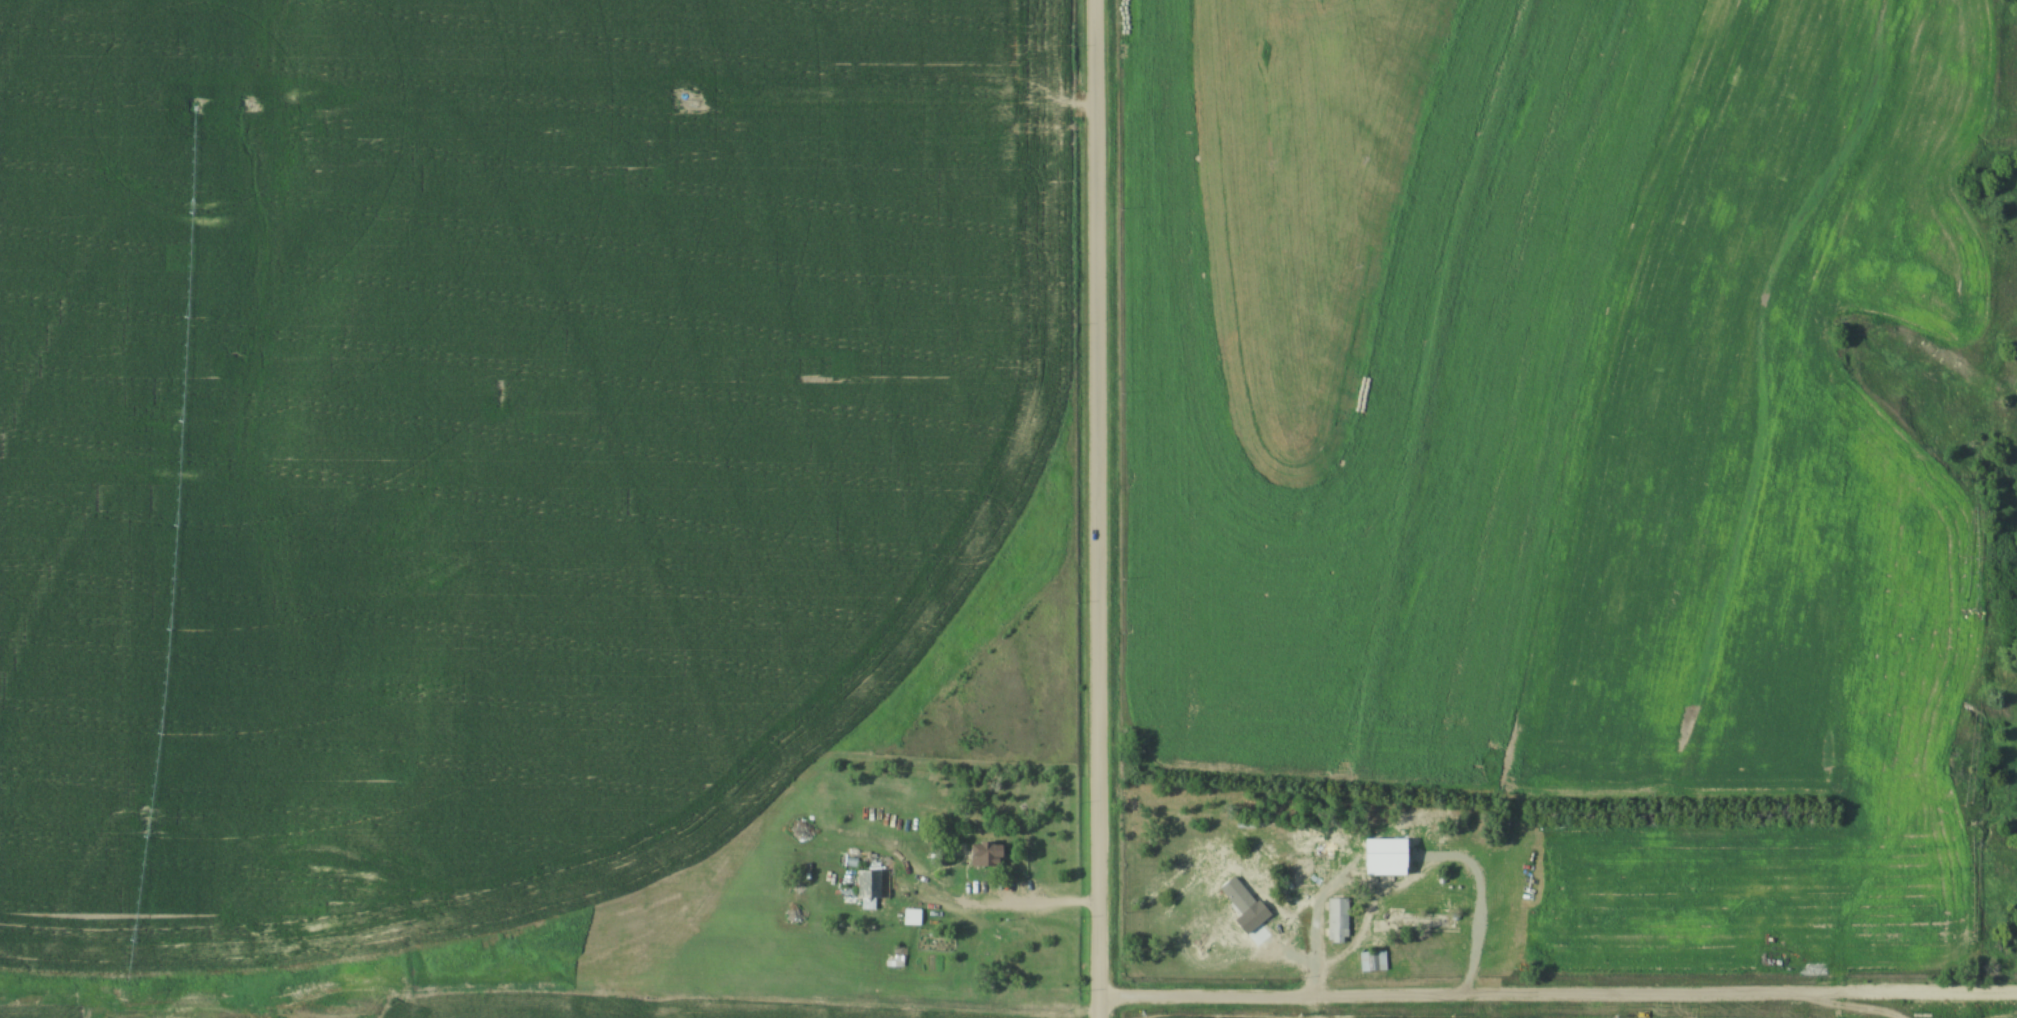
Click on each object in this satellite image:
road: (1091, 508)
building: (988, 857)
building: (1314, 875)
building: (874, 887)
road: (1026, 902)
building: (913, 919)
building: (1339, 922)
building: (1375, 962)
road: (1555, 996)

